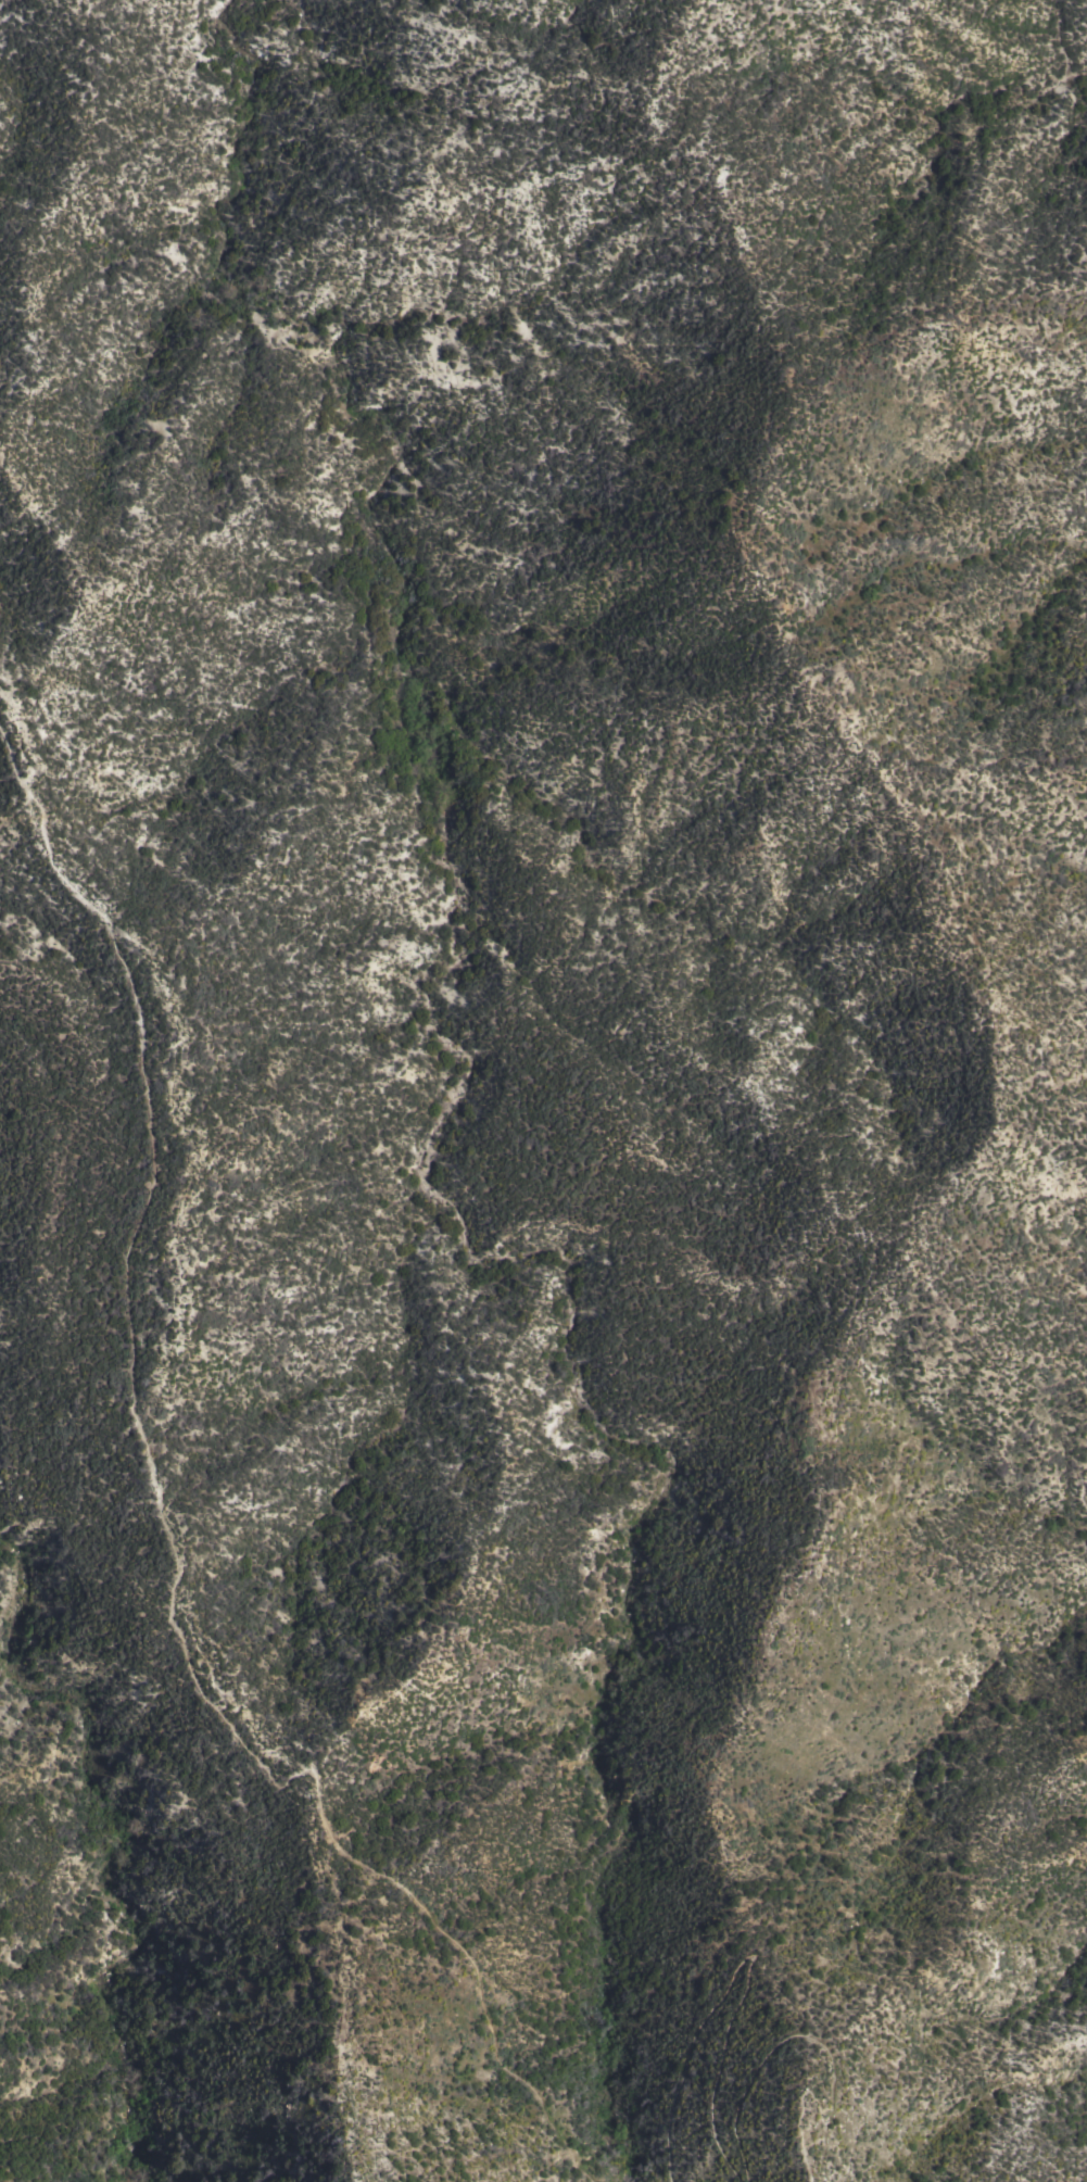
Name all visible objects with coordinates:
road: (167, 1536)
road: (742, 1962)
road: (812, 2041)

